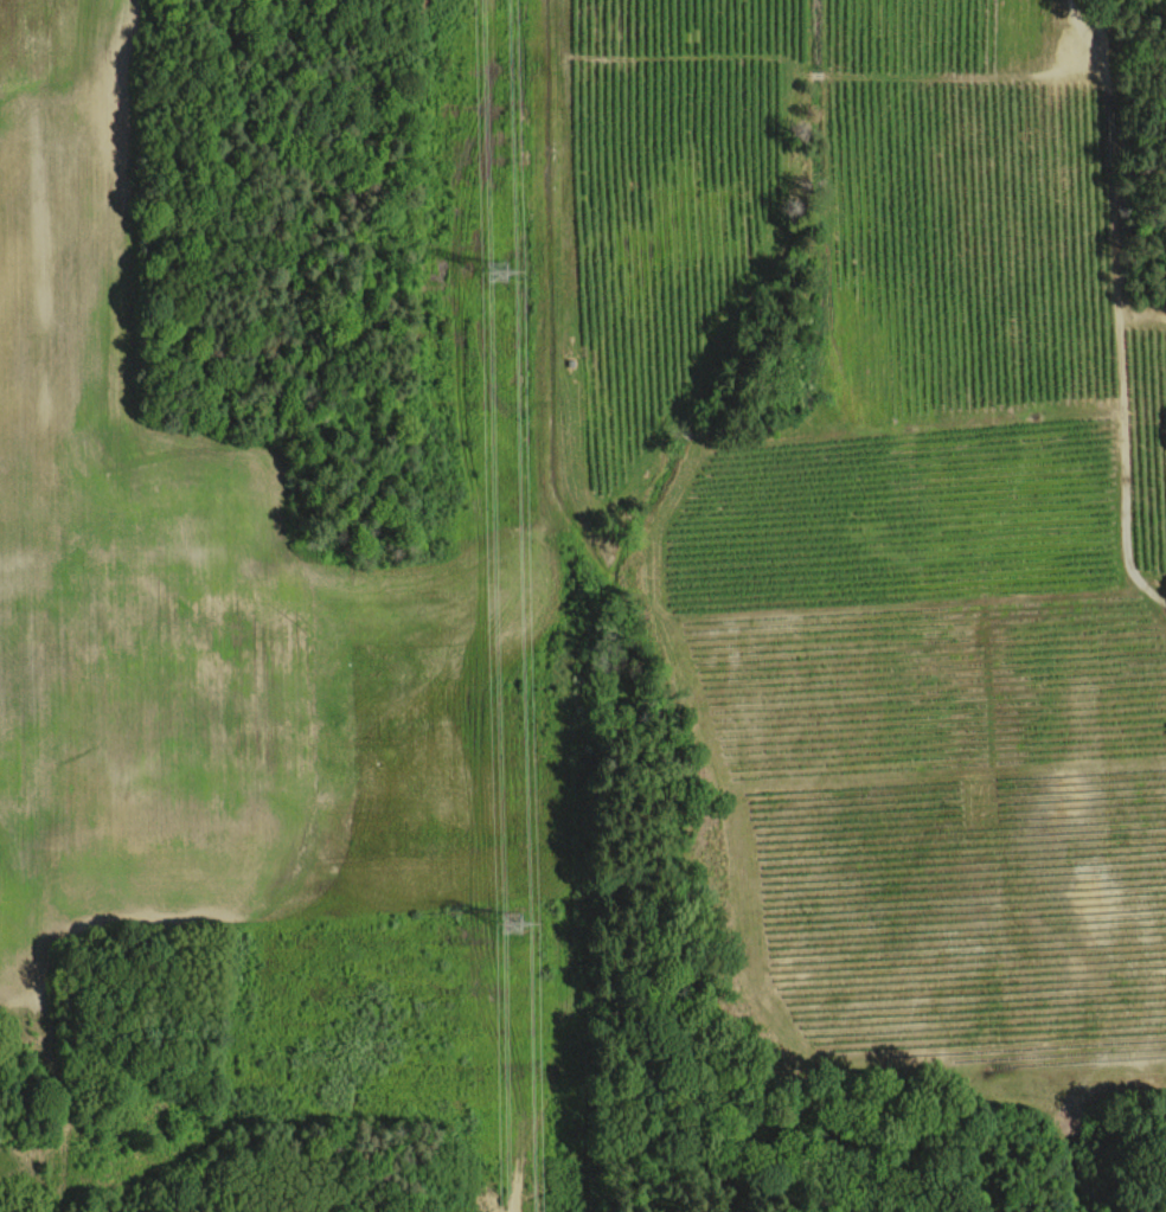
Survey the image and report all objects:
power tower: (495, 270)
power tower: (523, 924)

